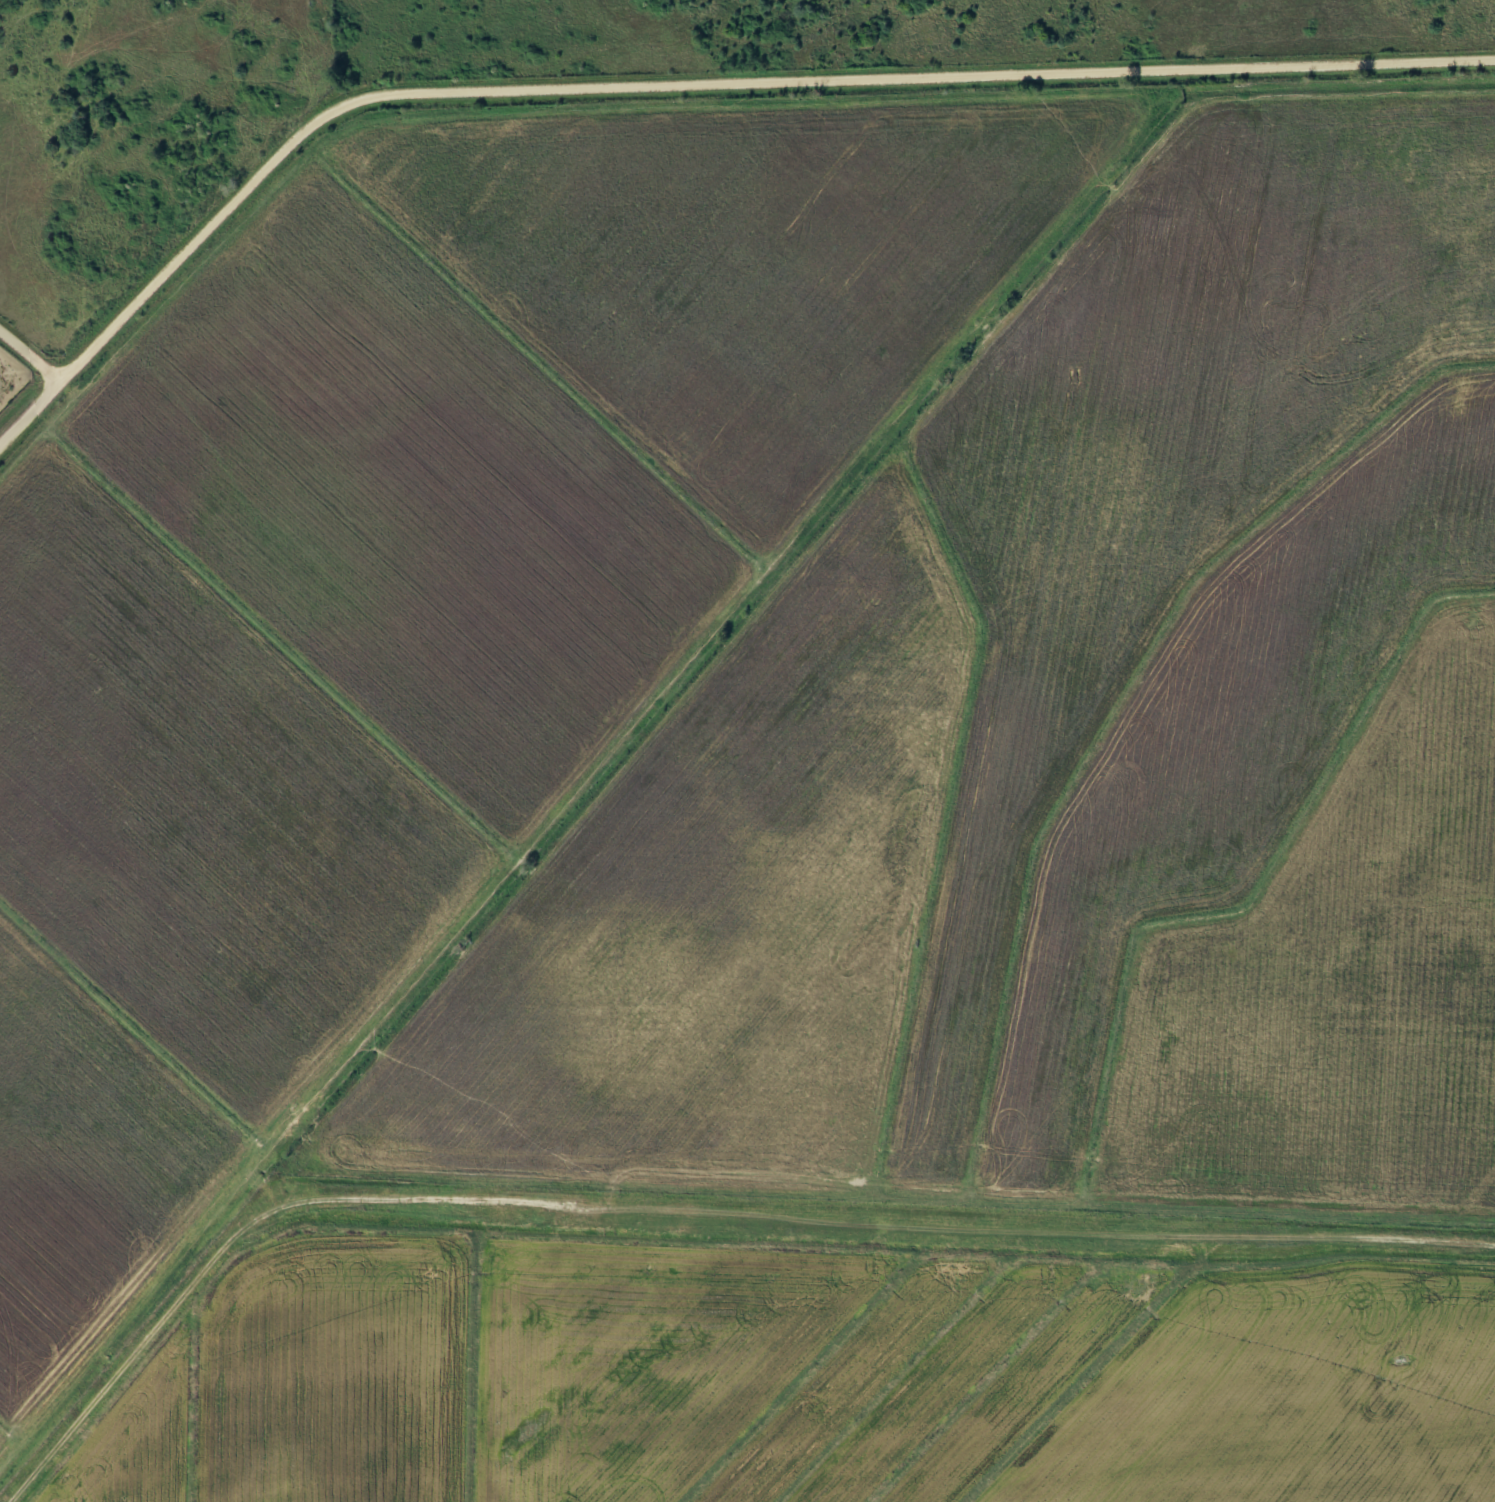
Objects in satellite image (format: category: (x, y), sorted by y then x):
road: (720, 81)
road: (29, 354)
road: (29, 411)

